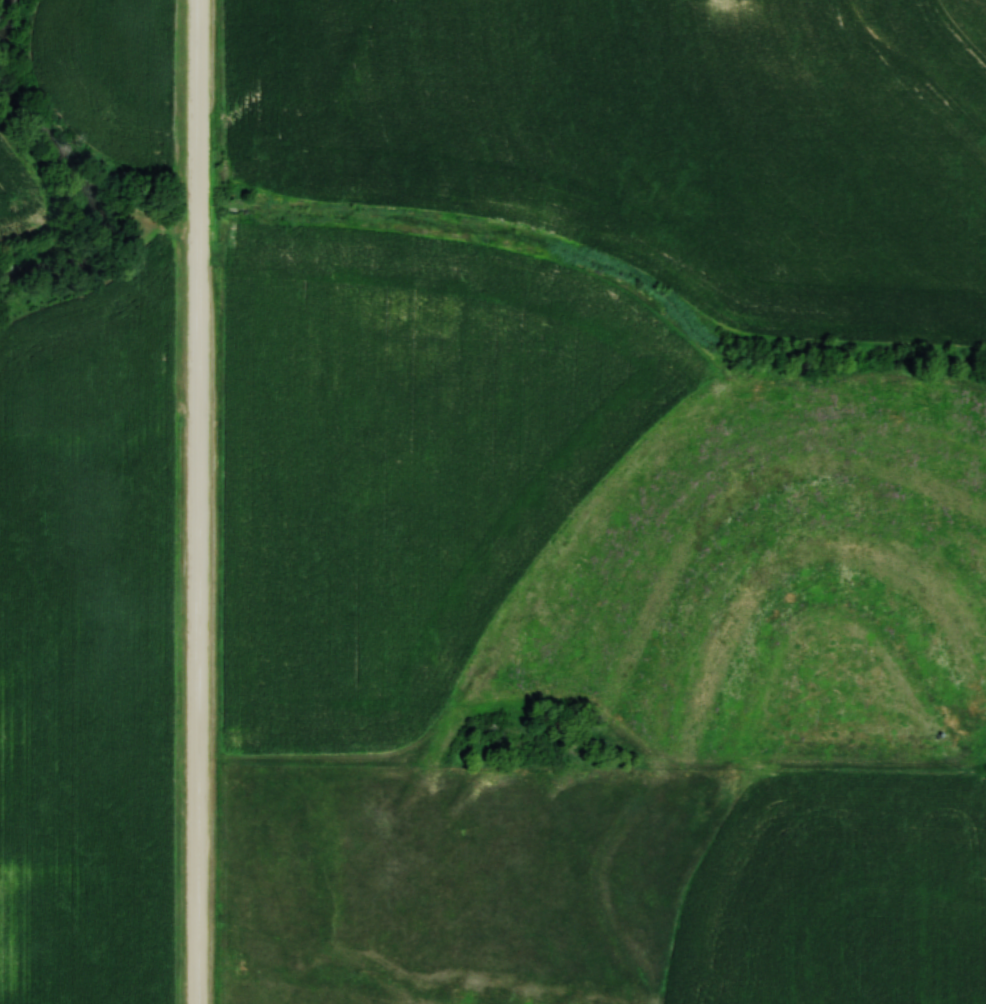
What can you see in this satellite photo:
crop: (113, 68)
road: (197, 502)

